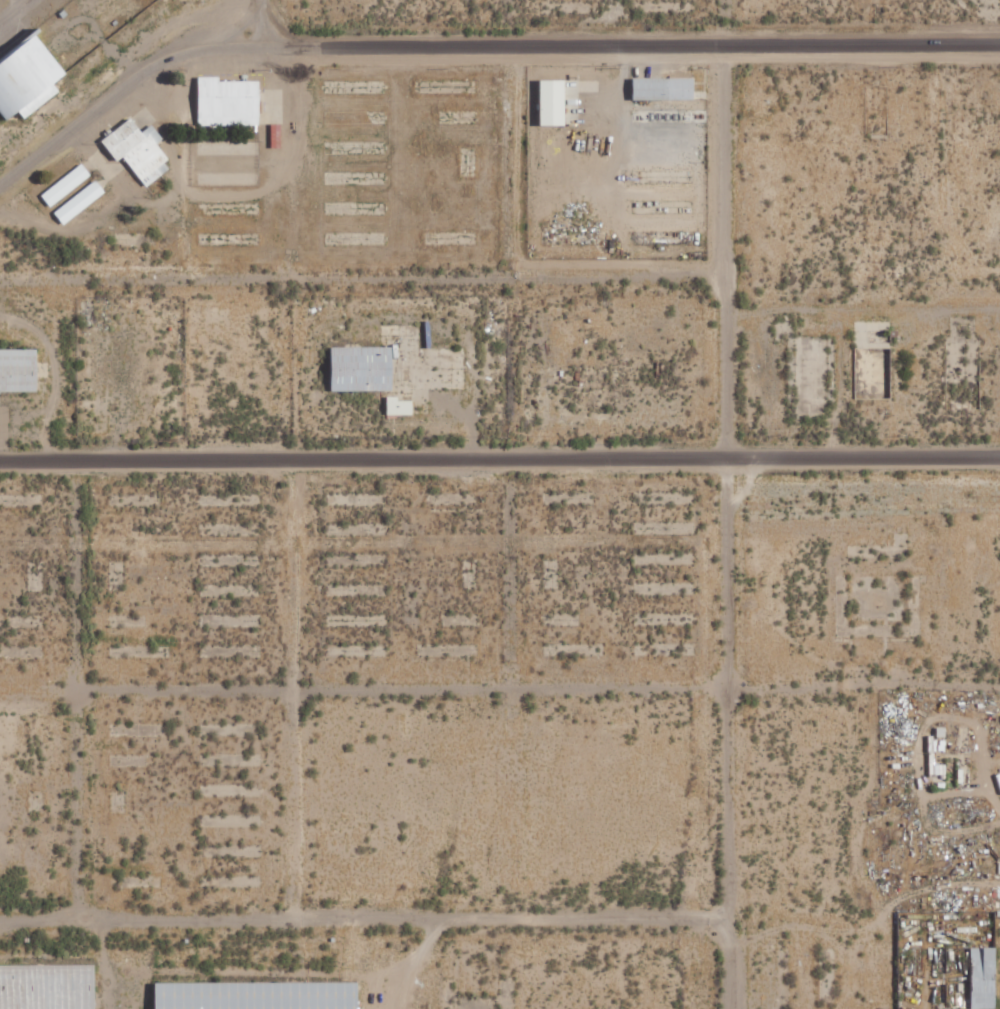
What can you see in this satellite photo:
road: (475, 41)
building: (28, 74)
building: (665, 88)
building: (230, 102)
building: (554, 102)
building: (139, 150)
building: (66, 185)
building: (80, 201)
road: (357, 281)
building: (364, 369)
building: (19, 370)
building: (400, 406)
road: (500, 461)
road: (715, 526)
road: (318, 582)
road: (499, 701)
road: (310, 802)
road: (76, 804)
road: (358, 900)
building: (978, 978)
building: (48, 986)
building: (260, 995)

